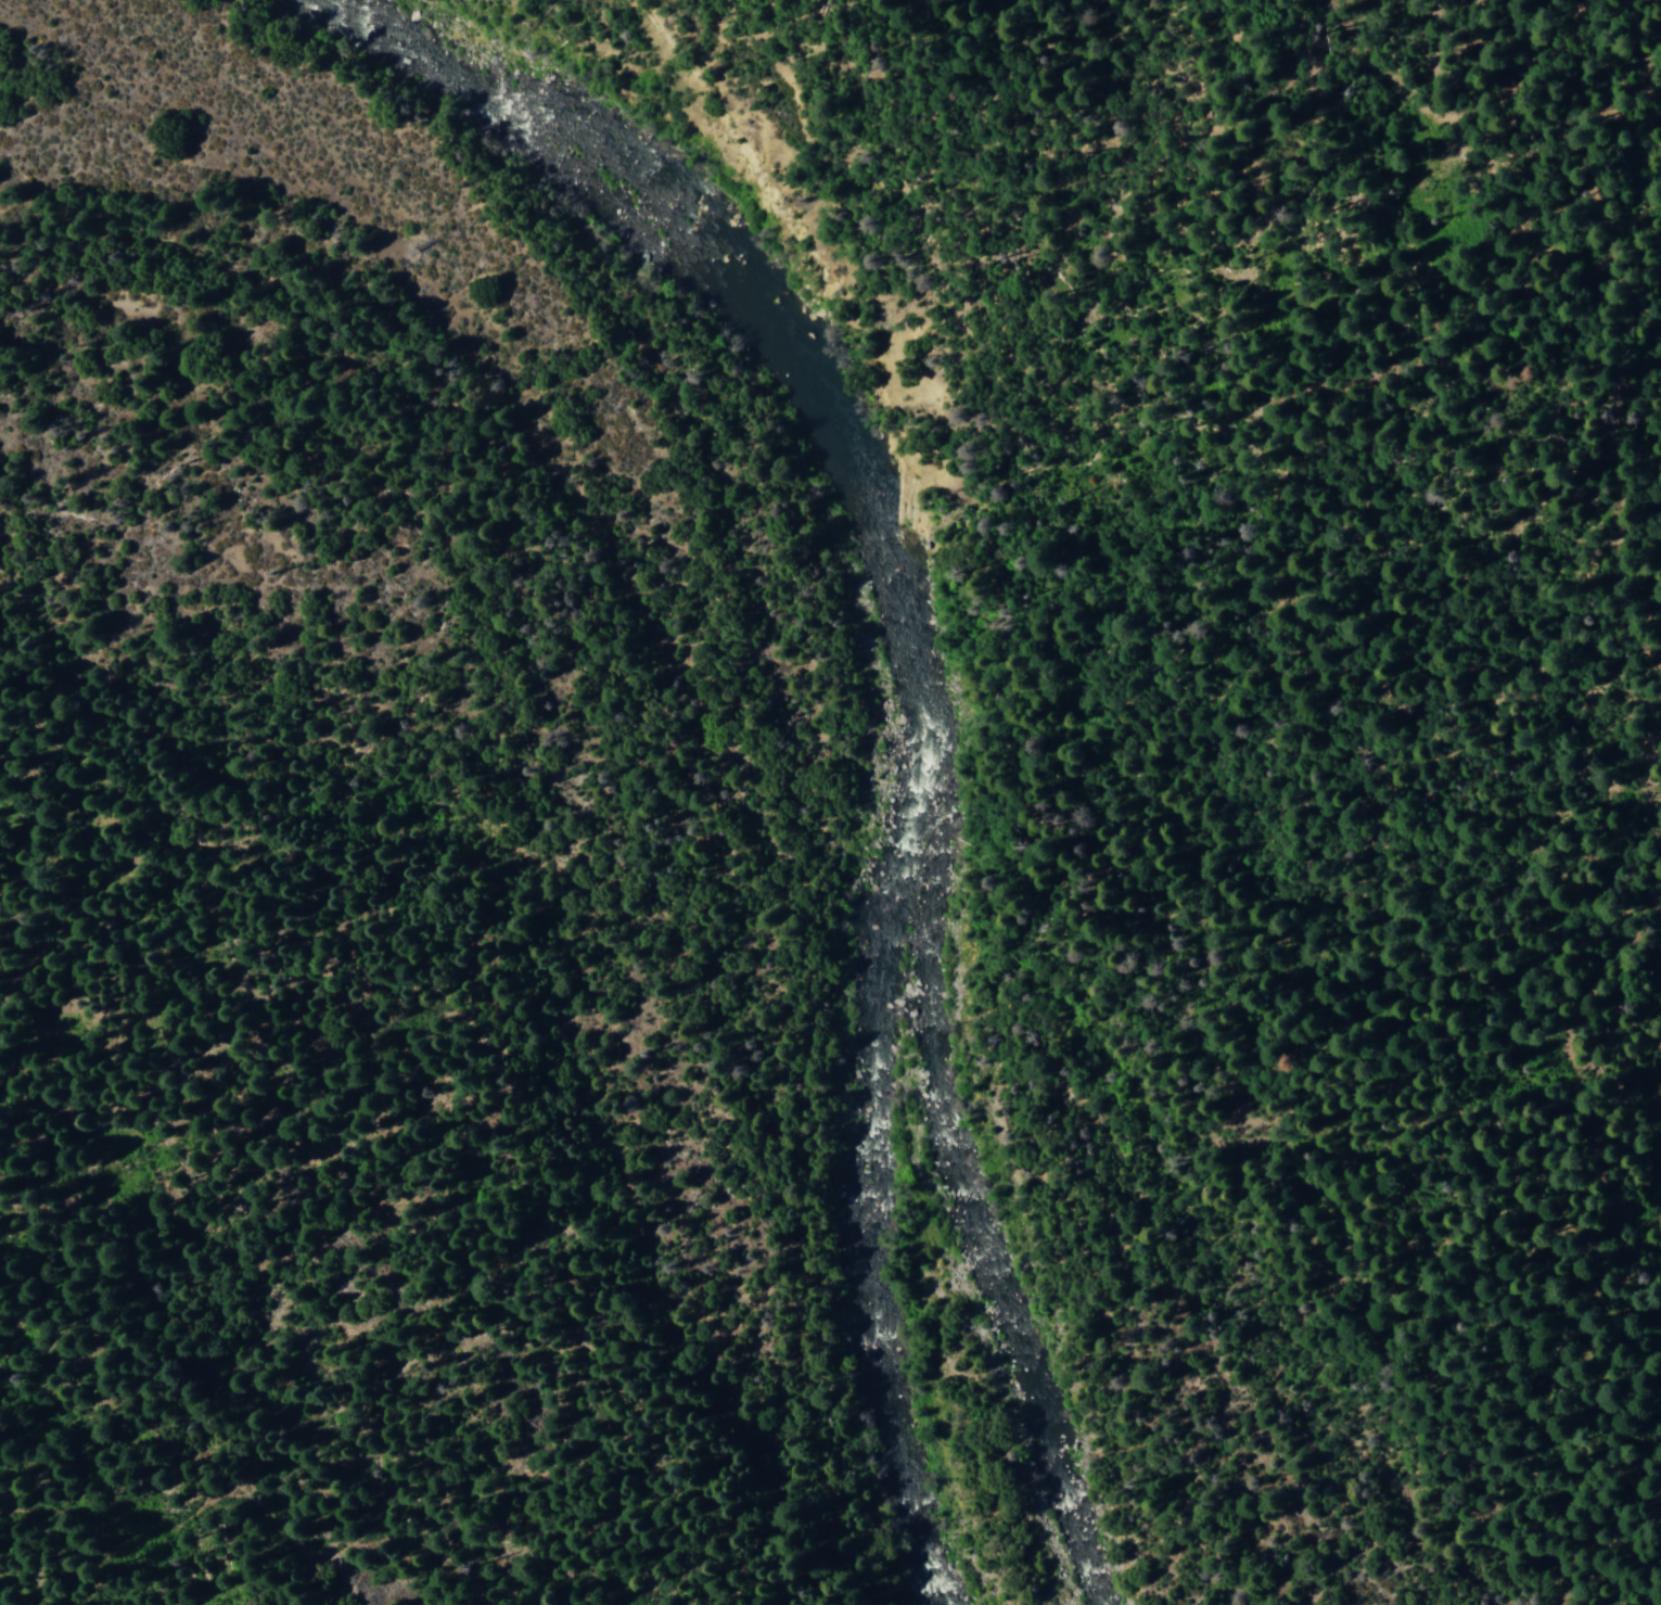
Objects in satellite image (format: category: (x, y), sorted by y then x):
road: (238, 127)
river: (892, 662)
road: (205, 777)
road: (327, 1517)

